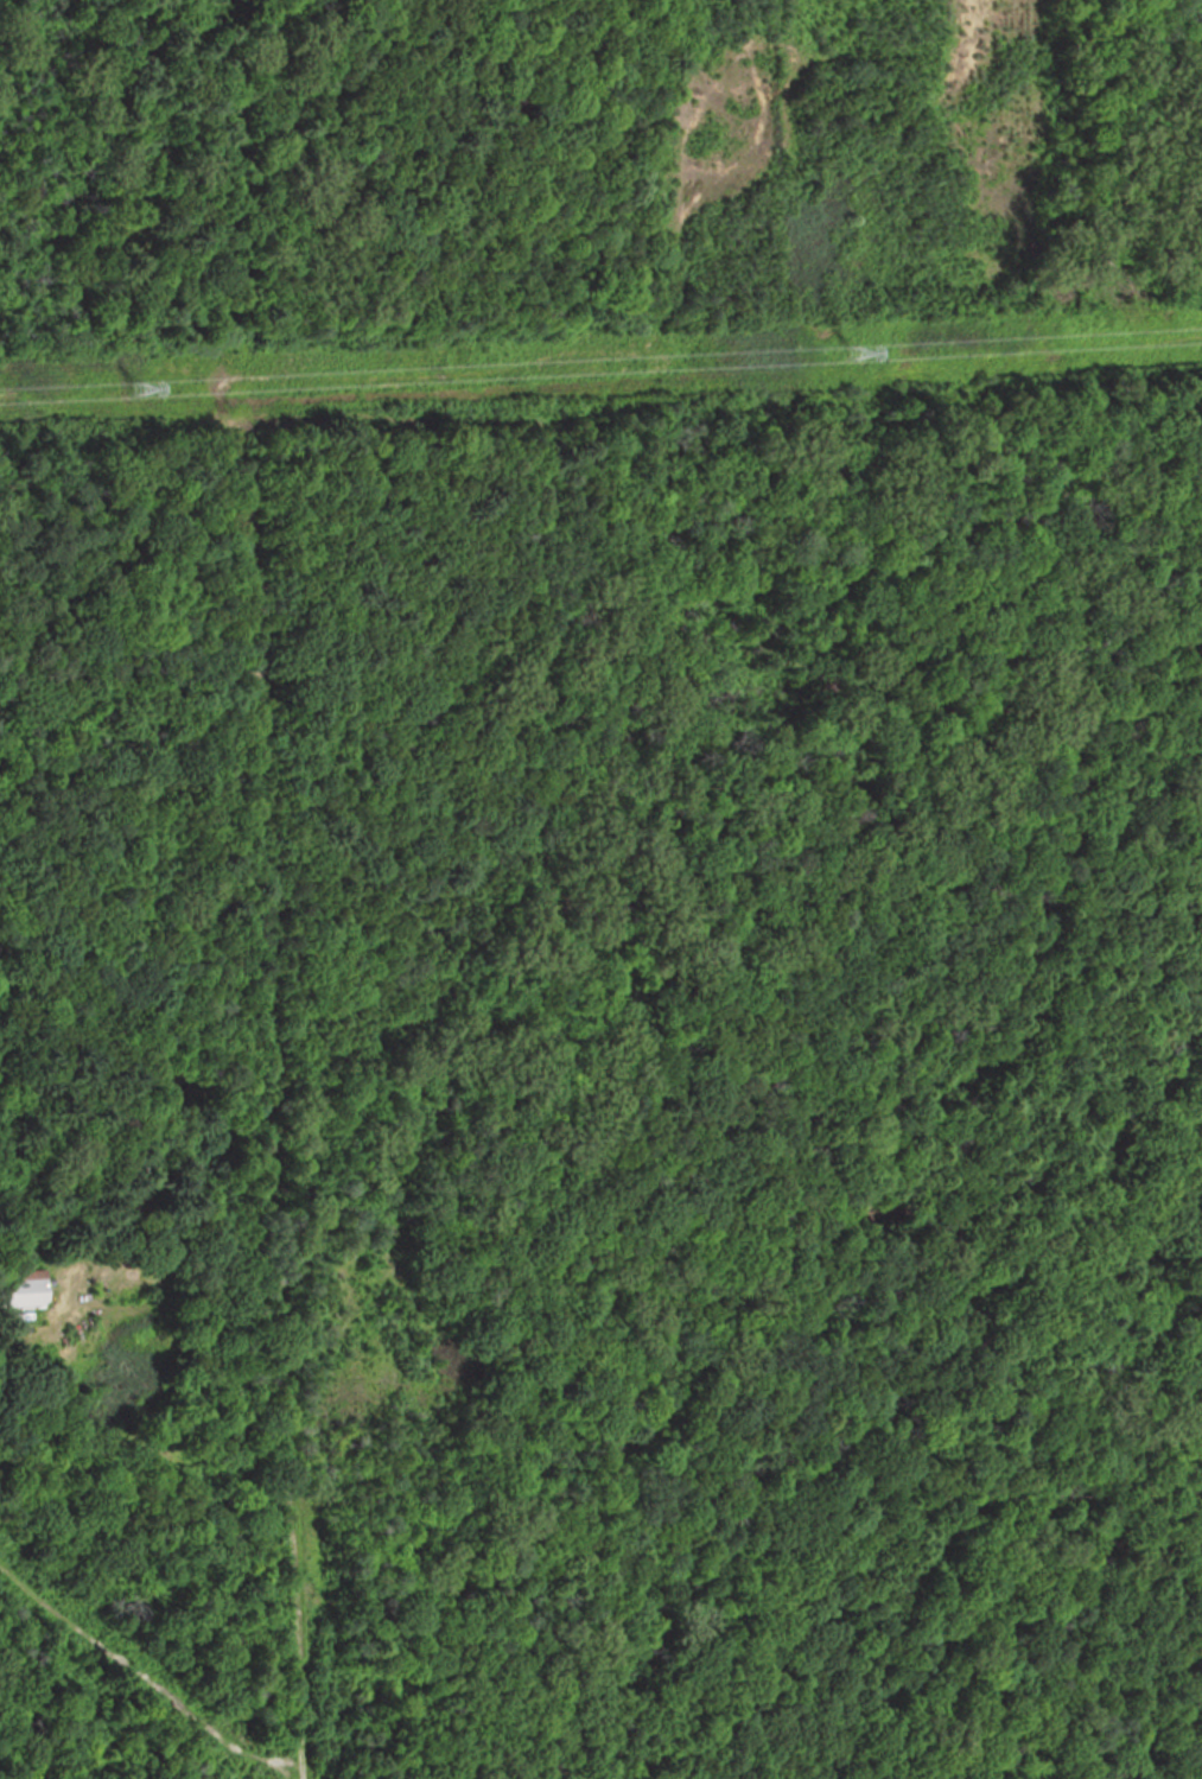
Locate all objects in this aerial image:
power tower: (856, 354)
power tower: (145, 388)
road: (262, 1075)
building: (21, 1289)

